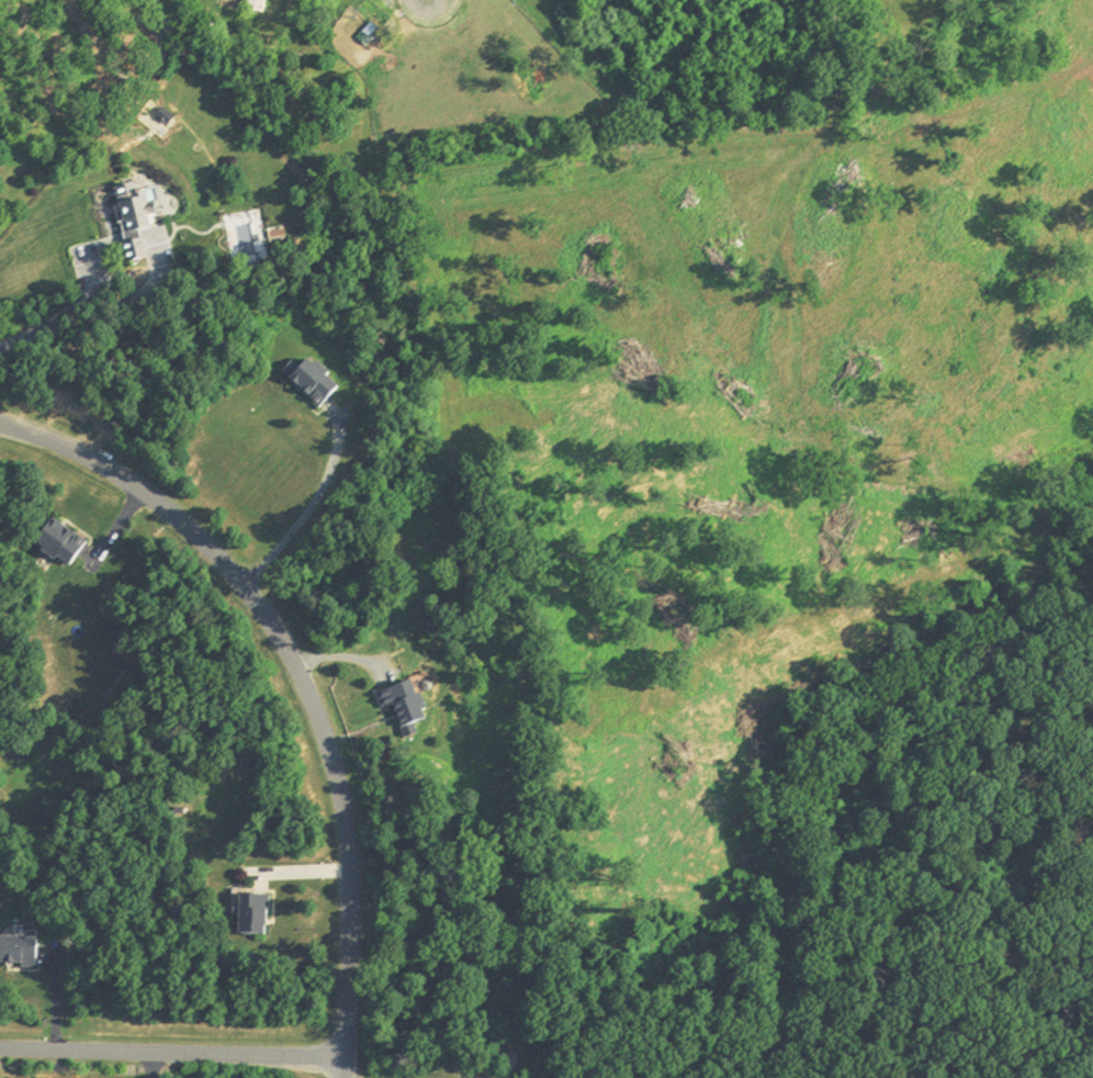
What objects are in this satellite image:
building: (253, 5)
building: (133, 220)
road: (56, 301)
building: (313, 382)
road: (308, 510)
building: (59, 542)
road: (300, 678)
building: (404, 705)
building: (252, 917)
building: (18, 953)
road: (172, 1053)
road: (151, 1065)

